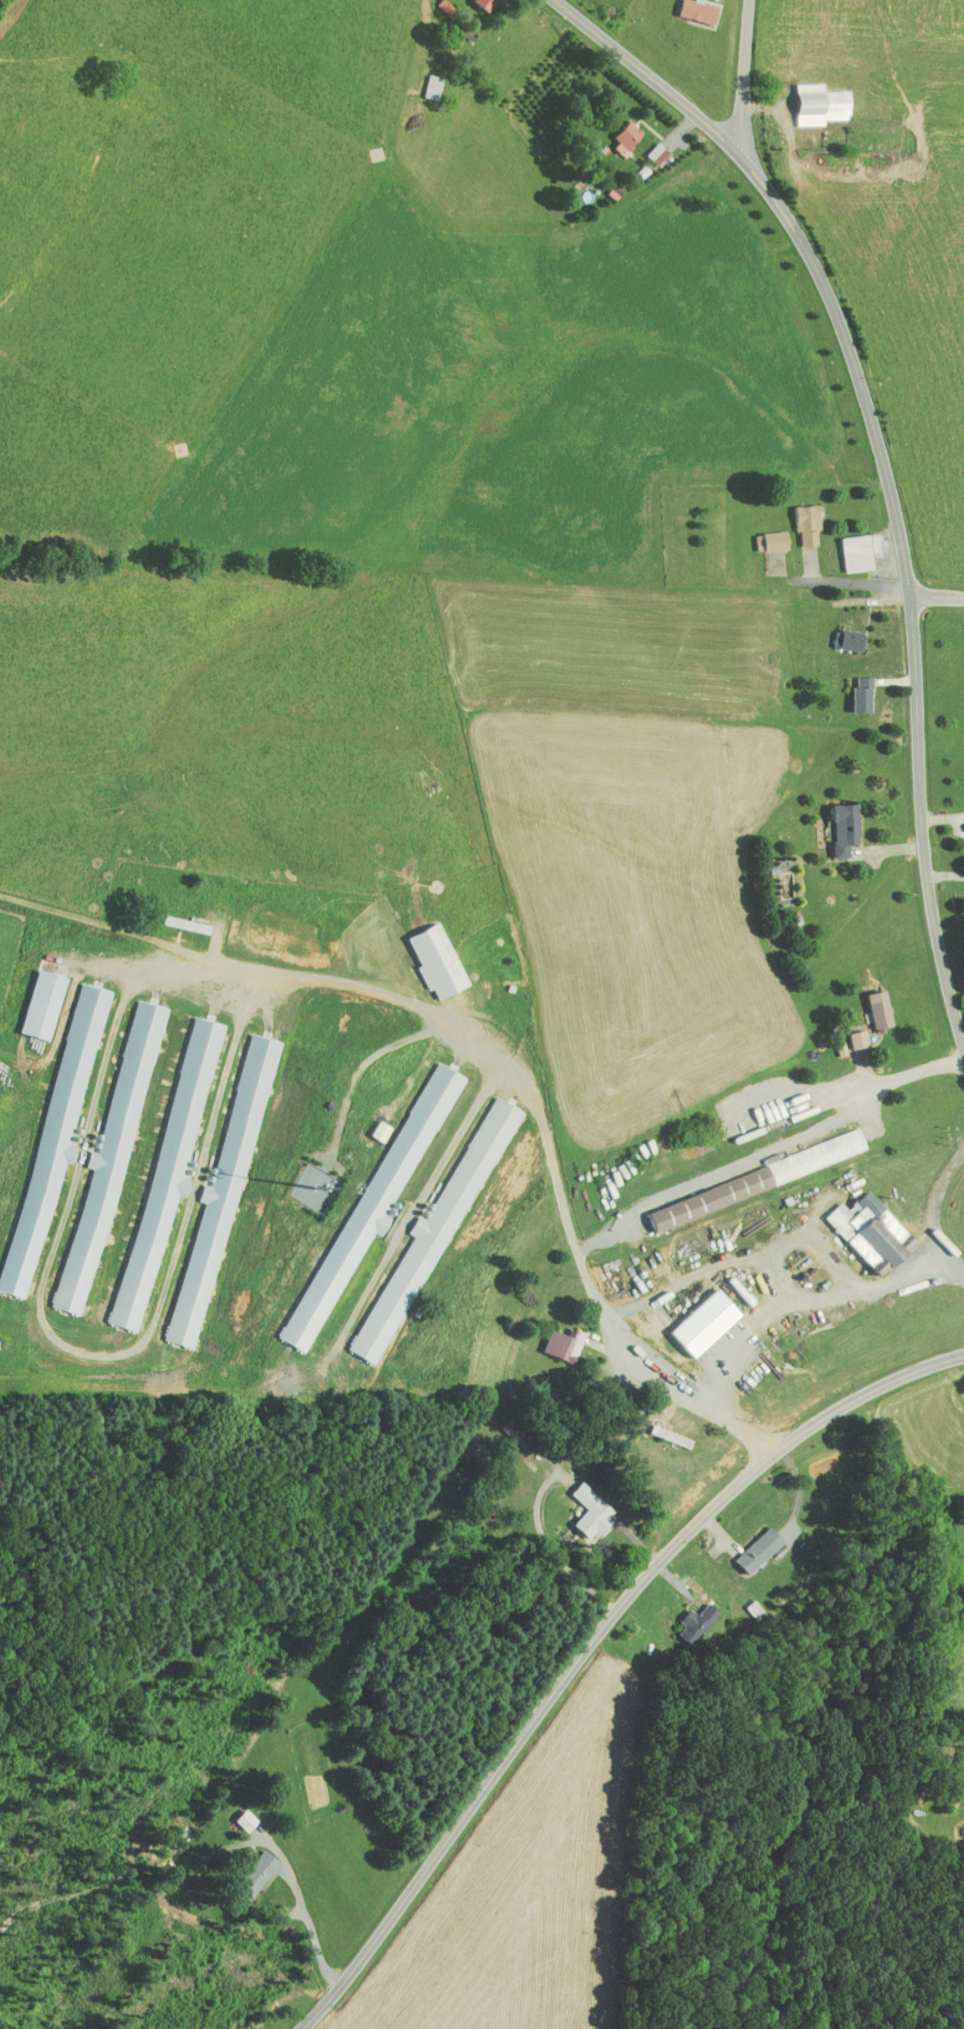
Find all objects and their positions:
building: (476, 2)
building: (691, 7)
road: (573, 19)
road: (730, 77)
building: (422, 81)
building: (812, 98)
building: (619, 129)
building: (647, 147)
road: (884, 493)
building: (798, 516)
building: (766, 534)
building: (848, 546)
road: (934, 600)
building: (853, 688)
building: (837, 821)
building: (772, 872)
road: (944, 874)
building: (178, 917)
building: (429, 955)
building: (34, 998)
building: (850, 1033)
road: (505, 1035)
building: (46, 1121)
building: (372, 1124)
road: (770, 1150)
building: (161, 1157)
building: (97, 1161)
building: (758, 1169)
building: (368, 1190)
building: (212, 1194)
road: (934, 1209)
building: (862, 1224)
building: (420, 1234)
road: (807, 1296)
building: (697, 1316)
building: (555, 1338)
building: (582, 1505)
building: (751, 1544)
building: (688, 1617)
road: (586, 1645)
building: (237, 1814)
building: (250, 1865)

